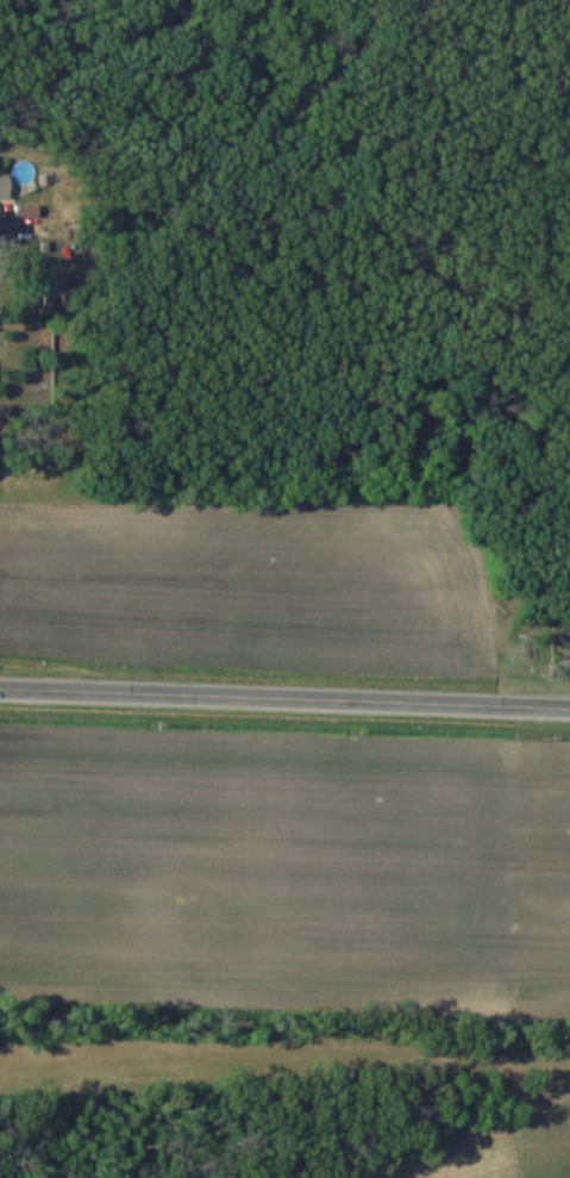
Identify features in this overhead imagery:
building: (6, 183)
road: (284, 698)

